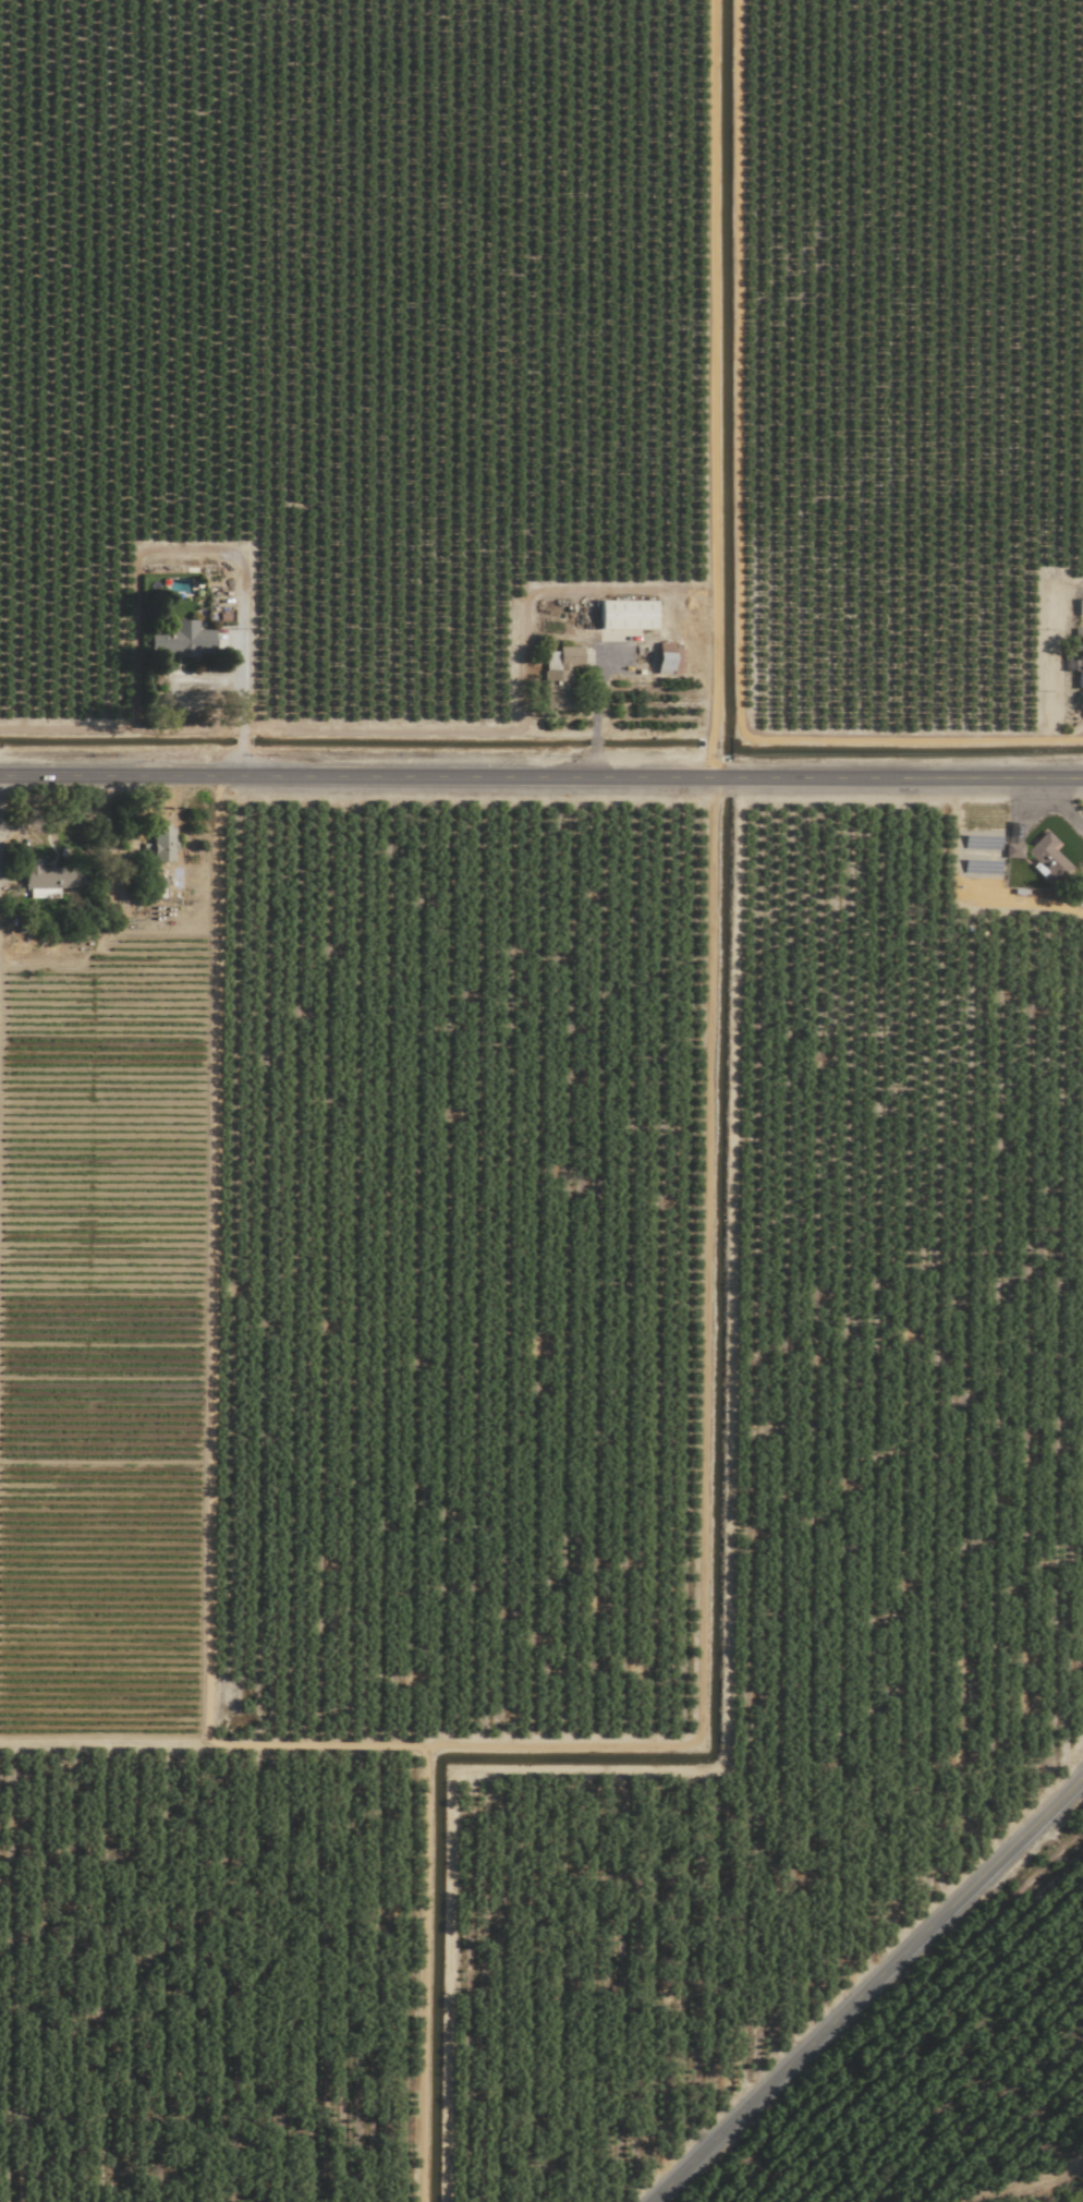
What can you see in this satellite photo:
crop: (606, 401)
building: (1081, 607)
building: (626, 615)
building: (184, 640)
building: (1080, 674)
road: (242, 676)
road: (243, 730)
road: (241, 763)
road: (541, 781)
road: (1060, 806)
building: (162, 842)
road: (170, 921)
crop: (539, 1495)
road: (867, 1992)

